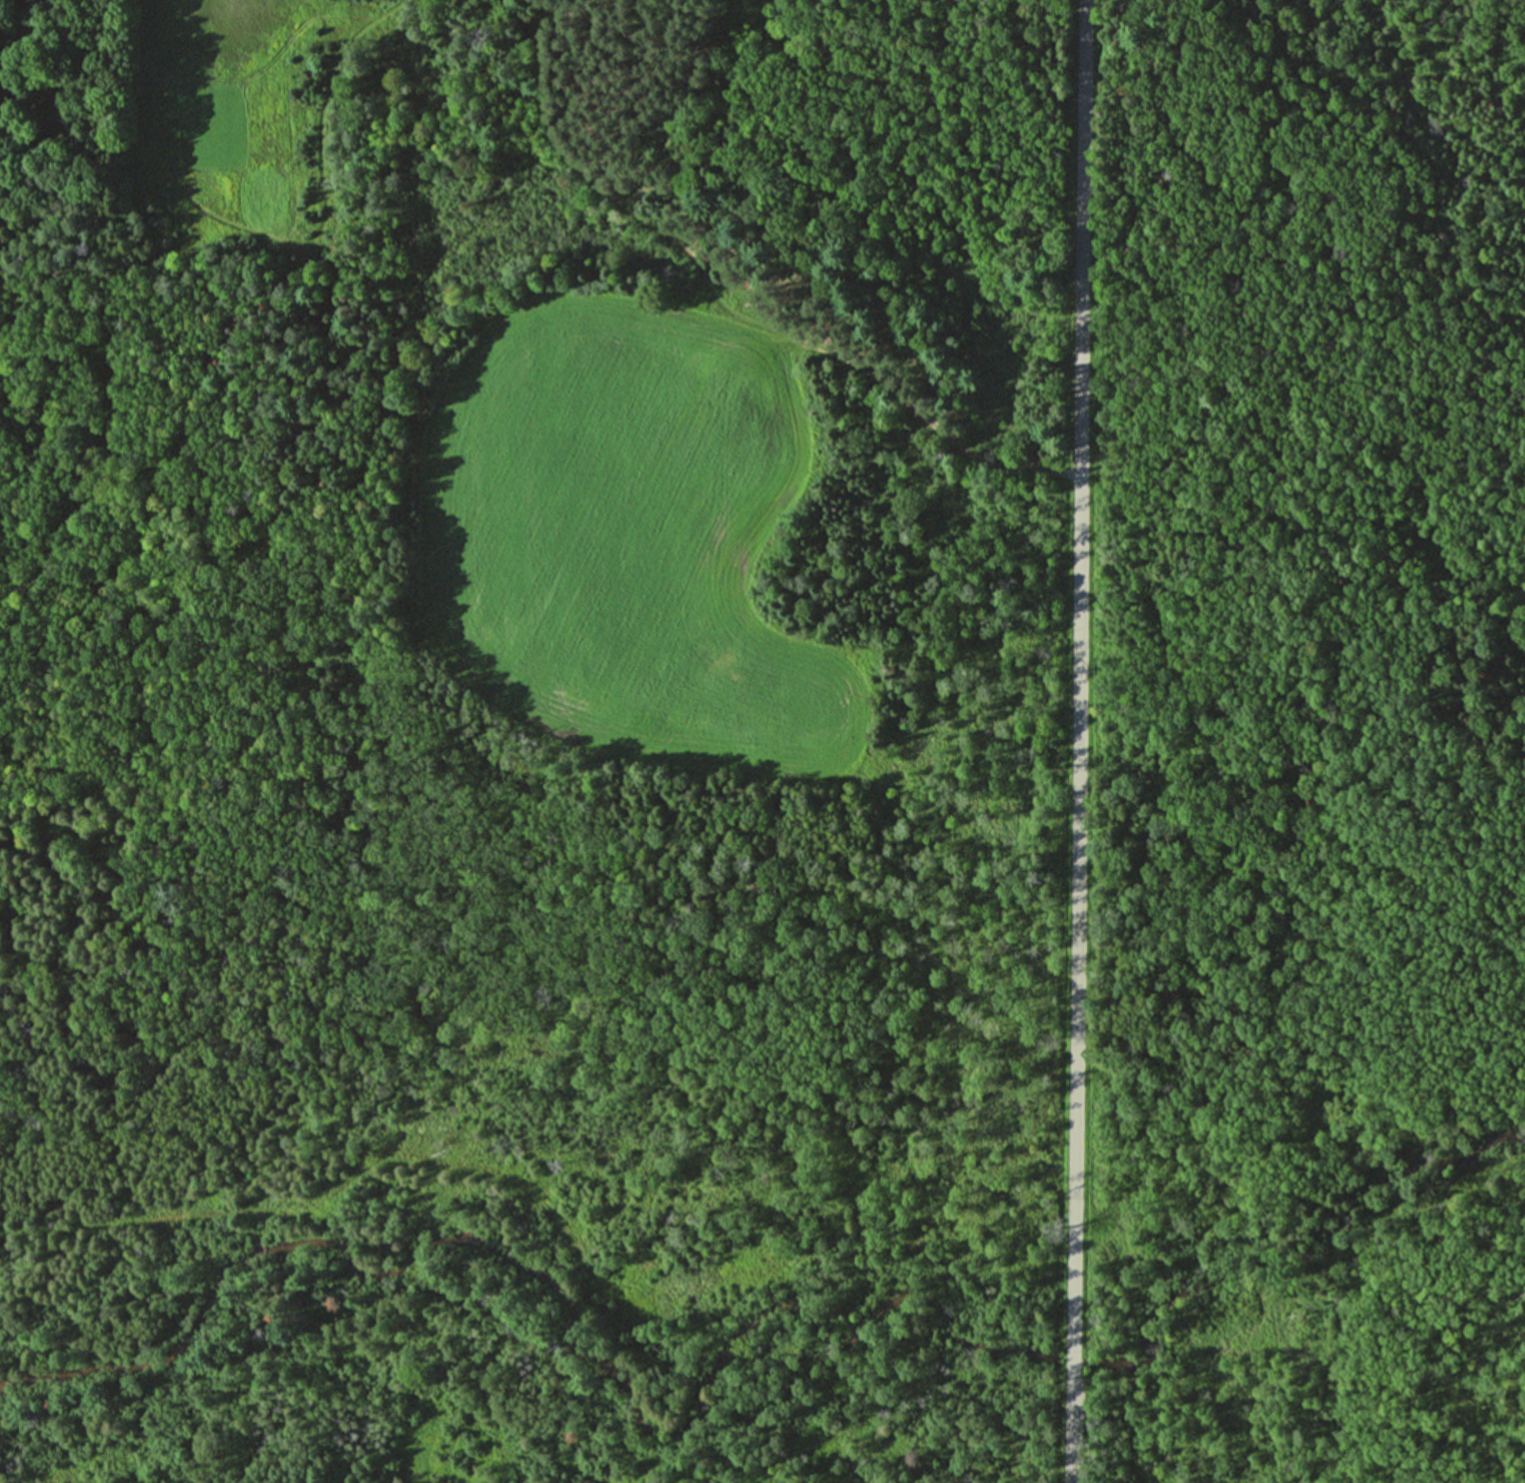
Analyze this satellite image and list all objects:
road: (1077, 741)

